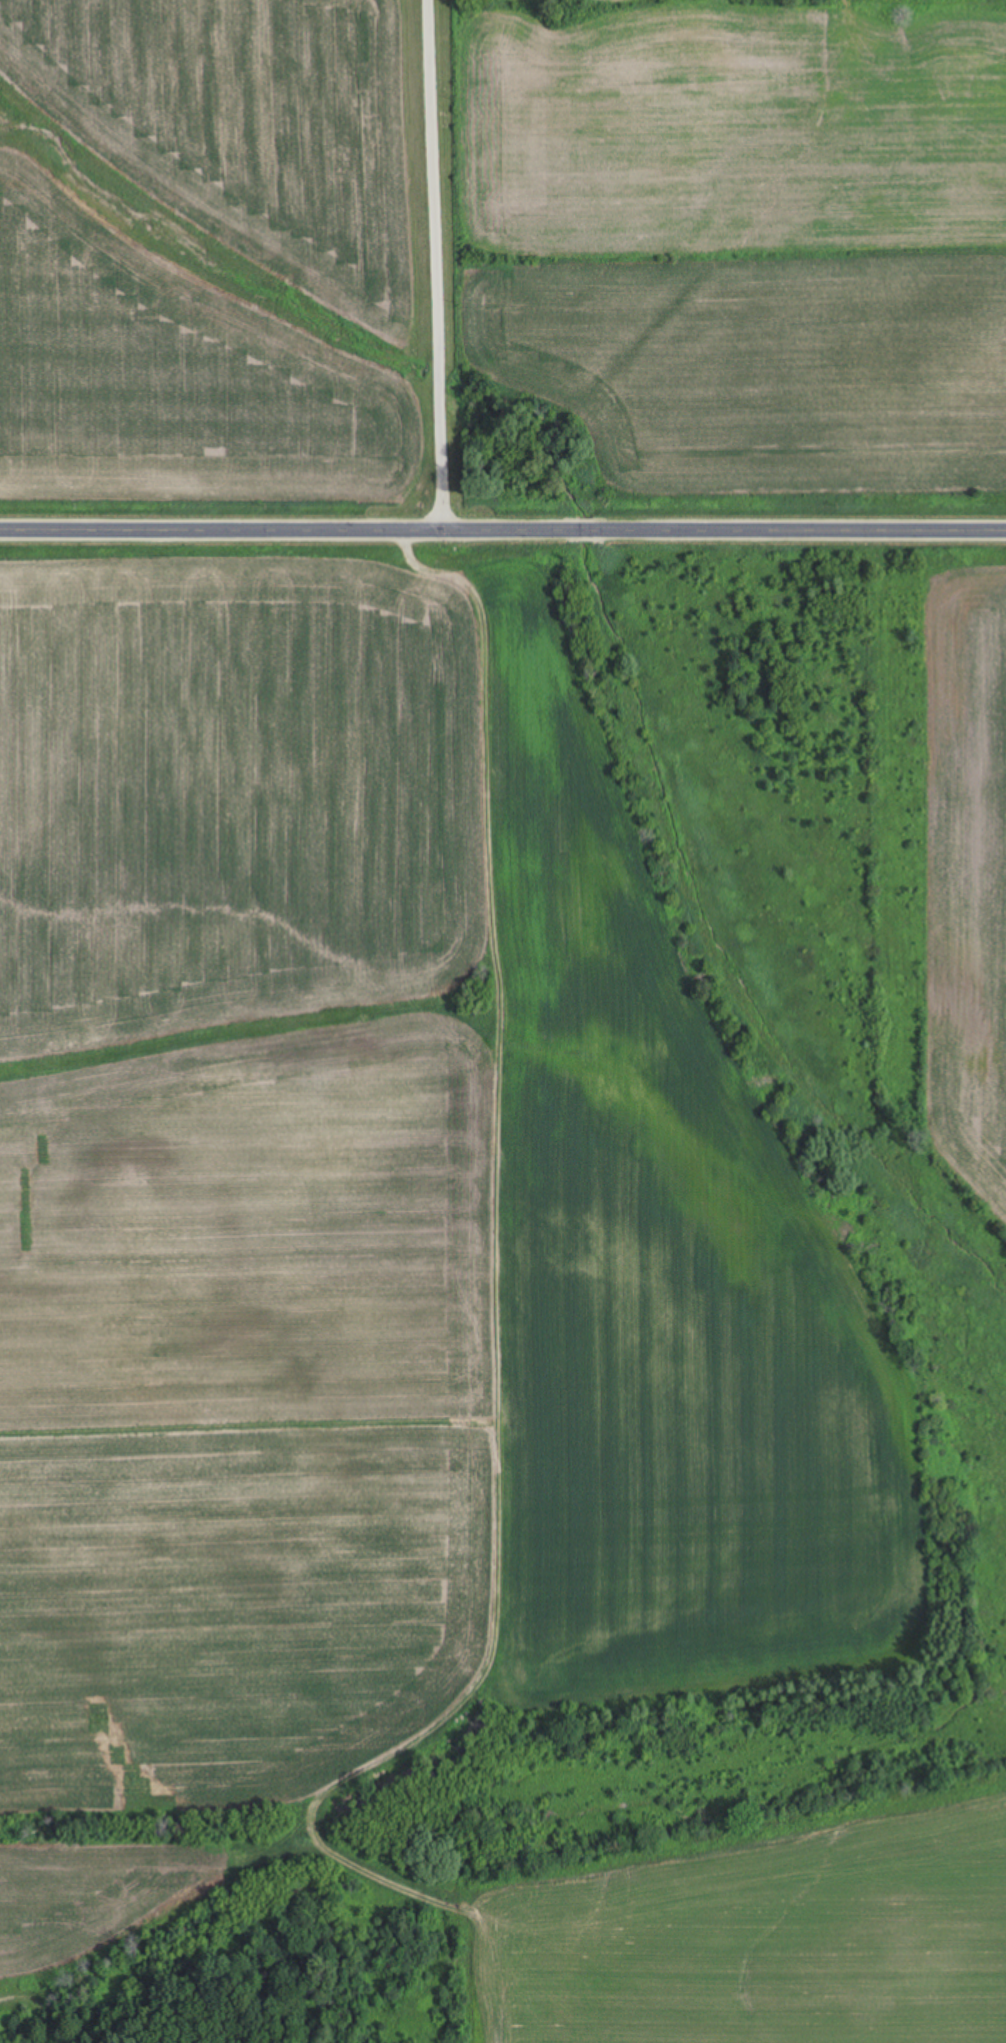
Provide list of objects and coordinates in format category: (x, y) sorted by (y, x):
road: (503, 524)

